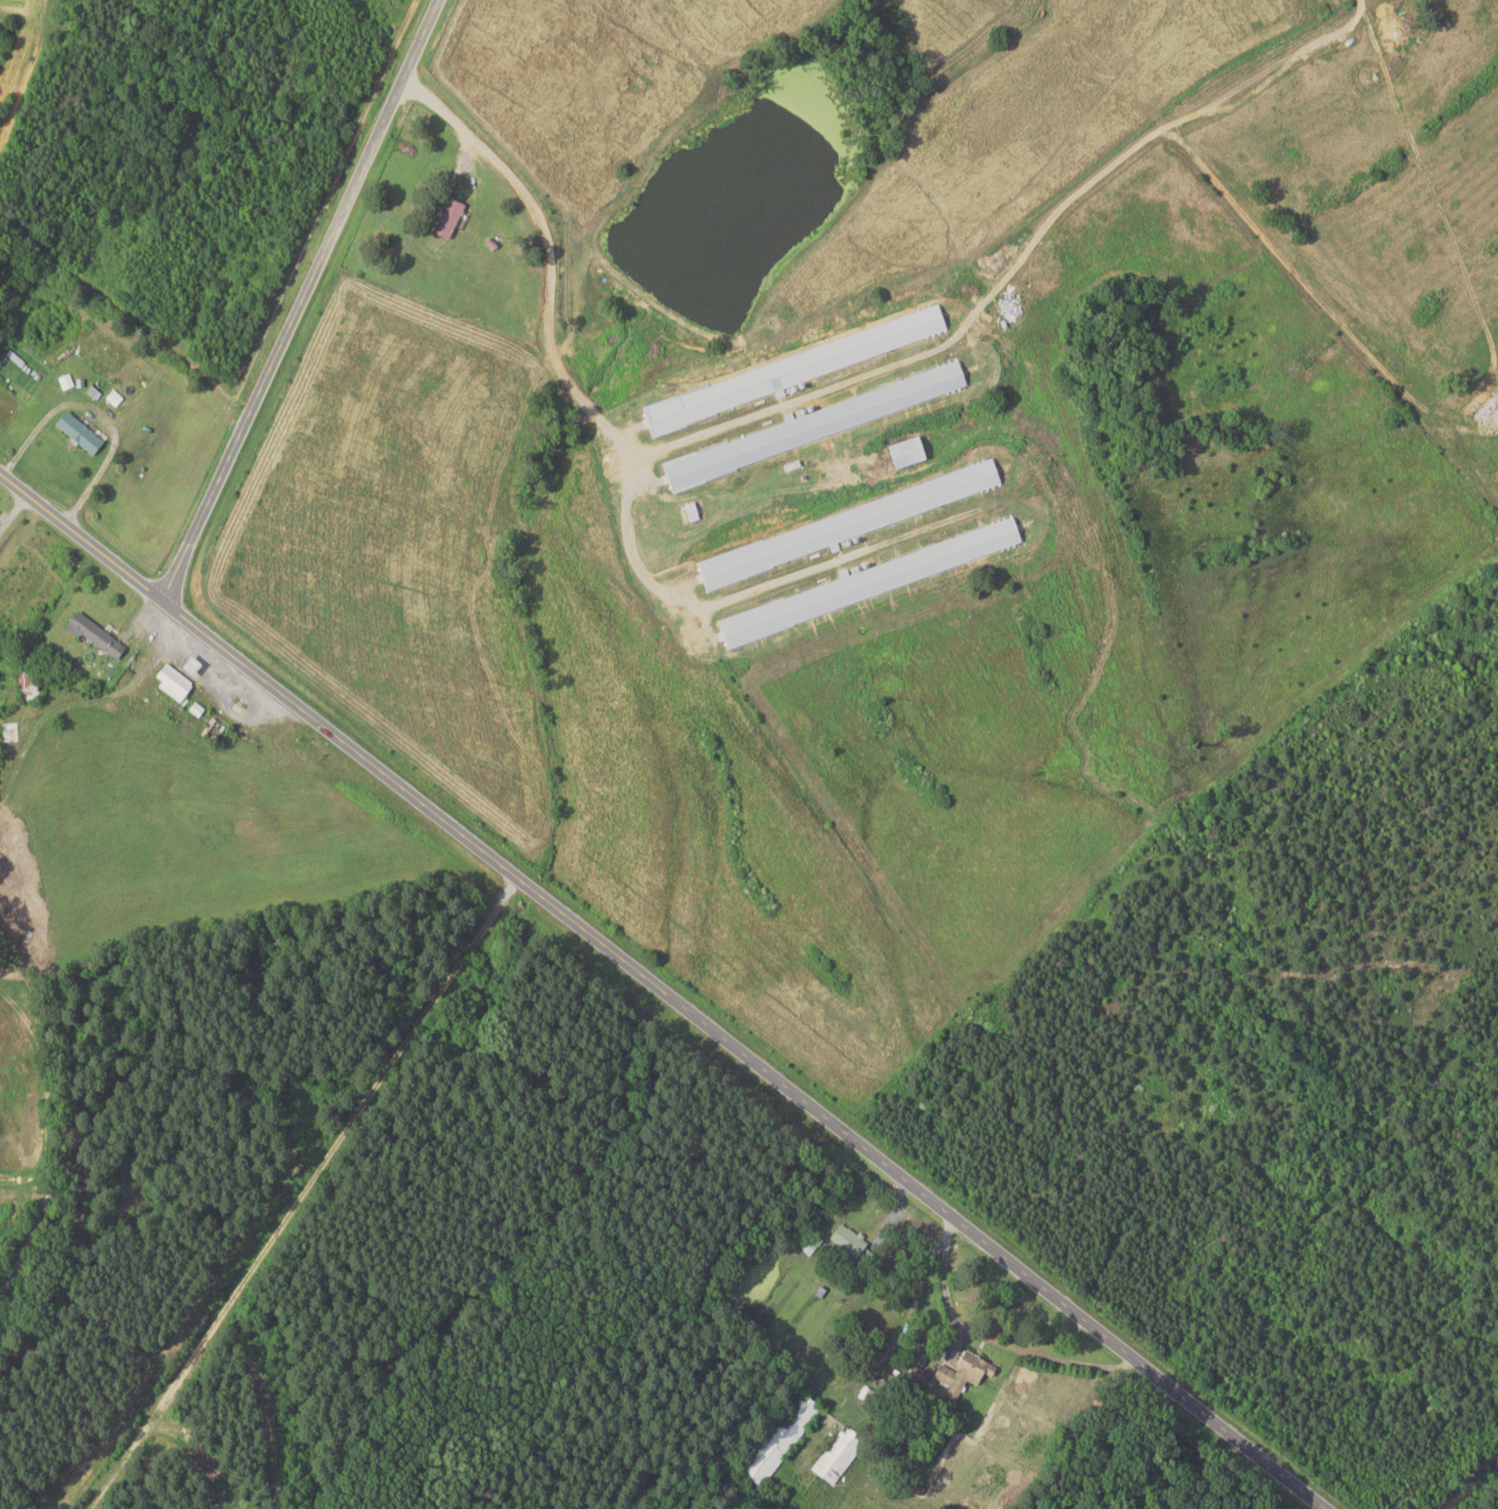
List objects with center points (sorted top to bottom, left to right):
building: (443, 217)
road: (297, 305)
building: (63, 380)
building: (90, 392)
building: (111, 397)
building: (822, 421)
building: (74, 432)
building: (901, 452)
building: (844, 524)
building: (91, 635)
building: (169, 681)
building: (193, 708)
road: (655, 996)
building: (844, 1240)
building: (958, 1374)

